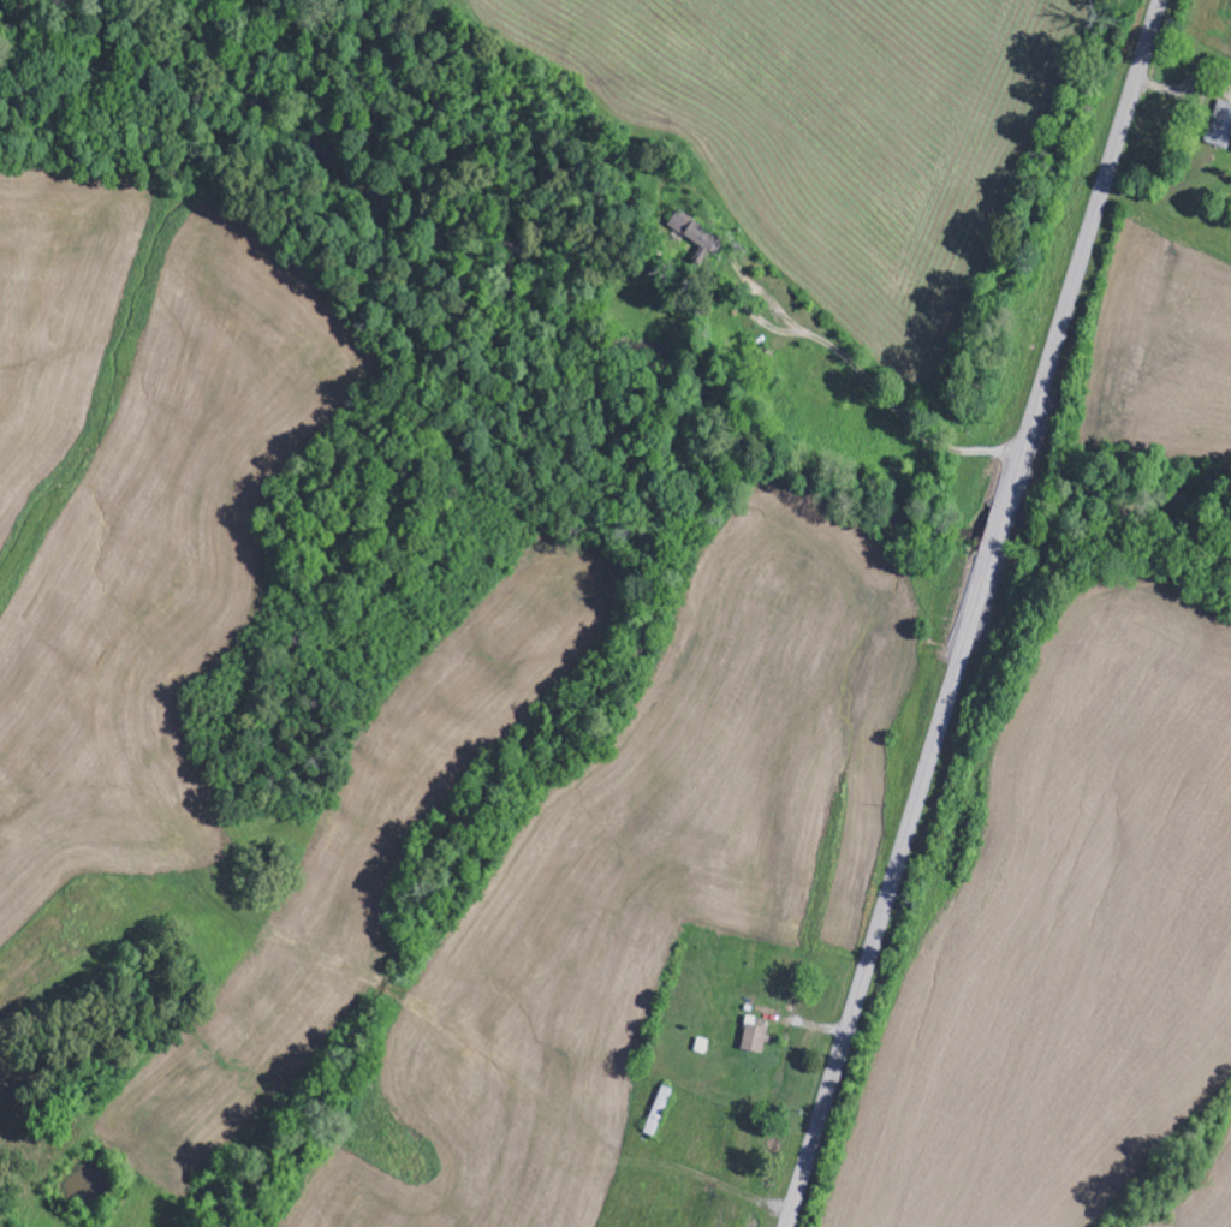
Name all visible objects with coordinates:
building: (1220, 125)
road: (973, 613)
building: (756, 1036)

